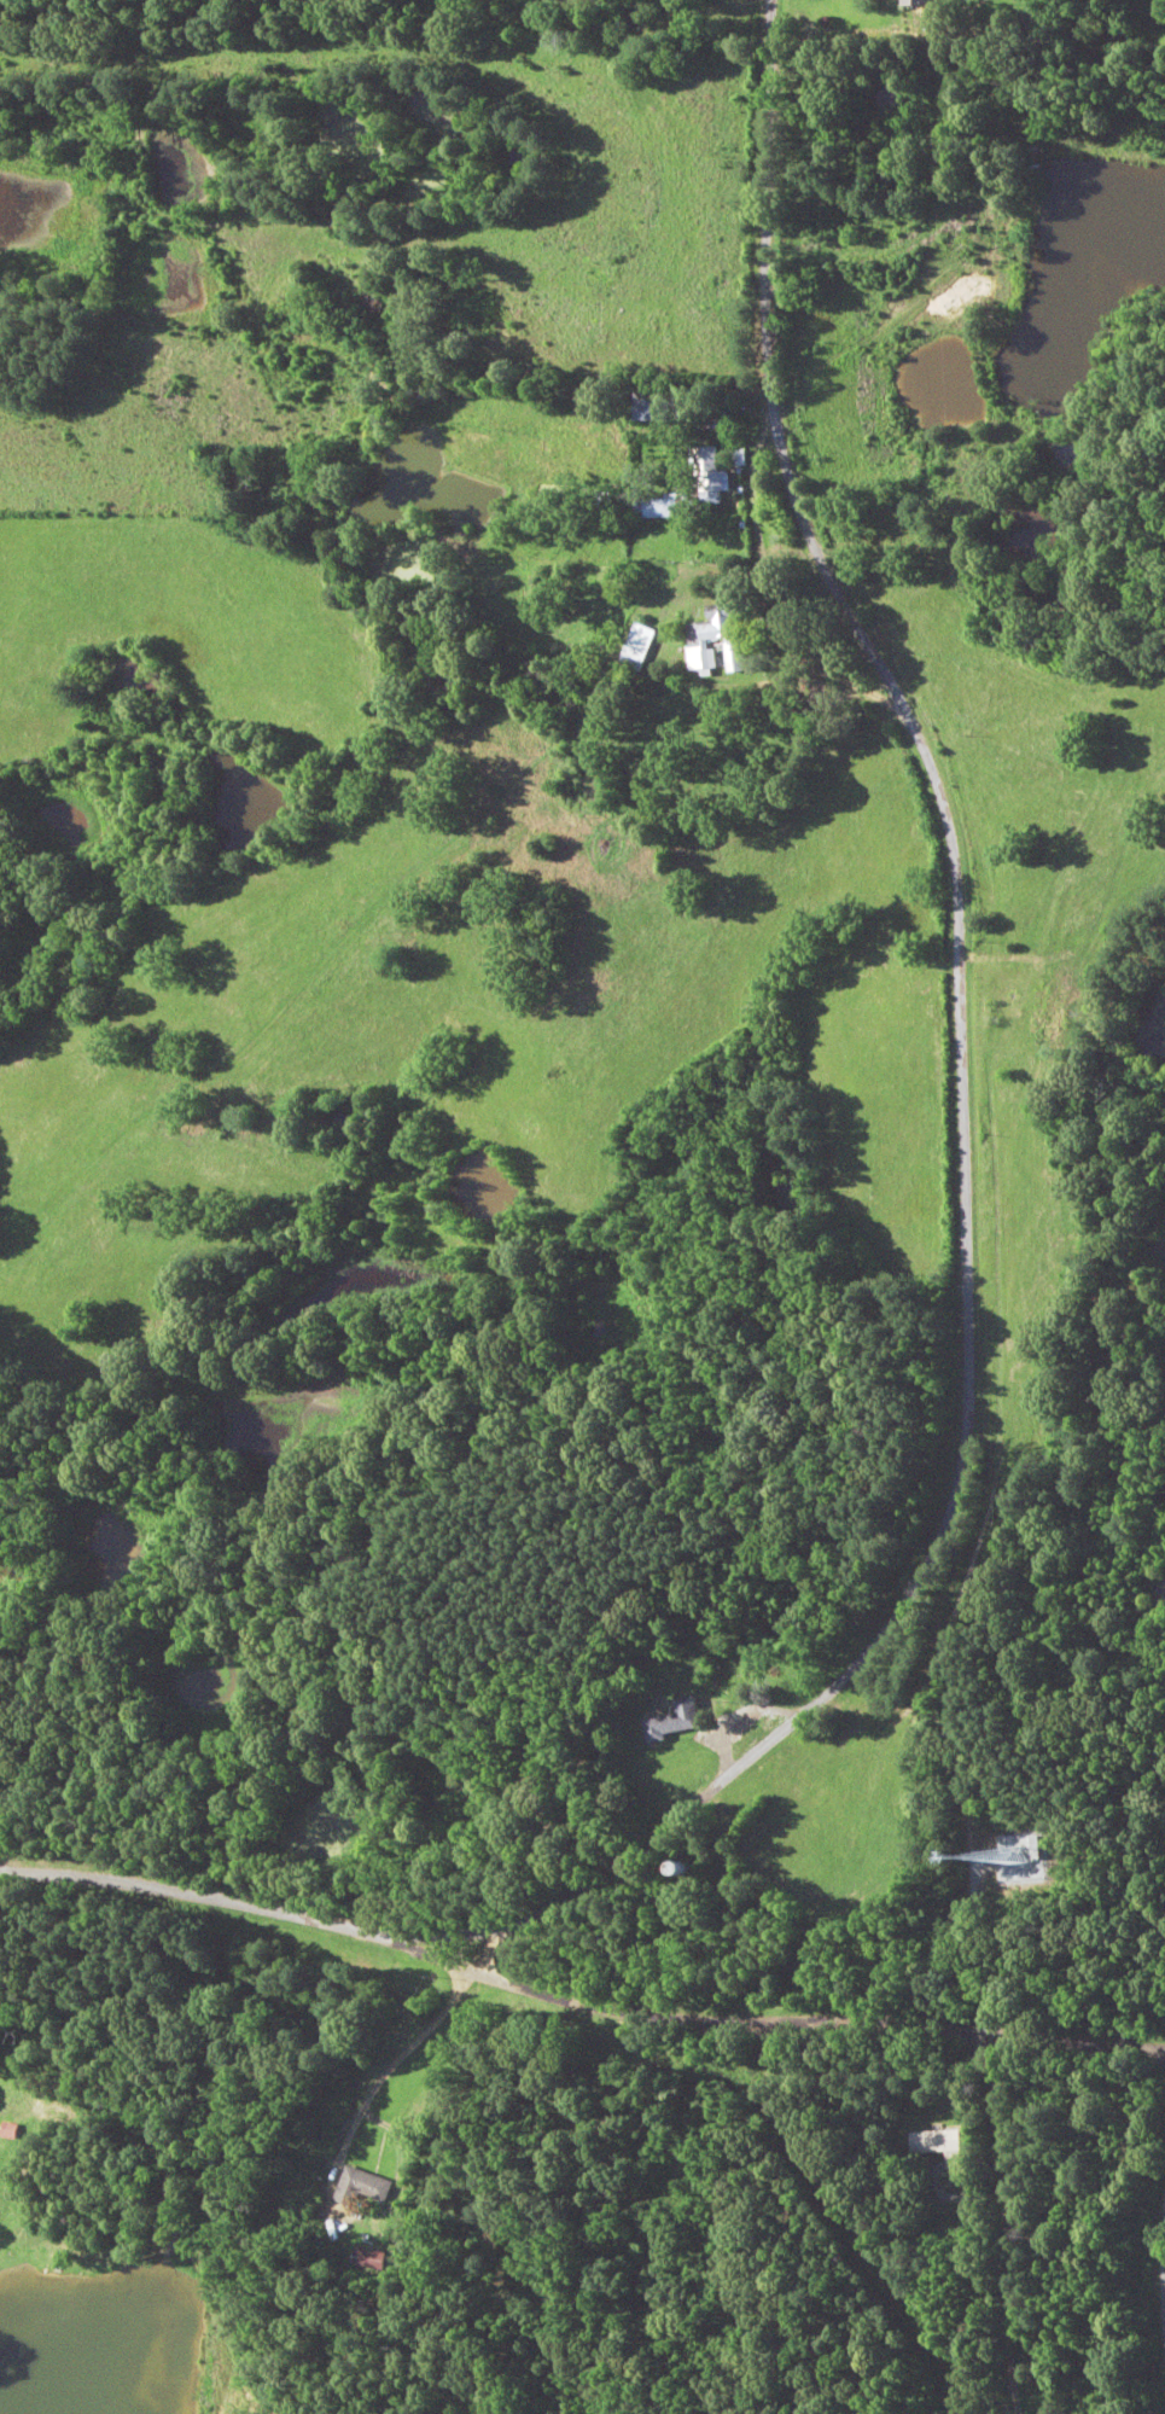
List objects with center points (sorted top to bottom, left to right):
building: (919, 2)
building: (651, 407)
building: (716, 418)
building: (712, 482)
building: (709, 639)
building: (734, 657)
building: (586, 796)
building: (1056, 1000)
road: (965, 1100)
building: (674, 1721)
road: (33, 1873)
road: (235, 1910)
road: (49, 1989)
road: (775, 2006)
building: (937, 2145)
building: (361, 2187)
road: (1006, 2215)
building: (369, 2261)

